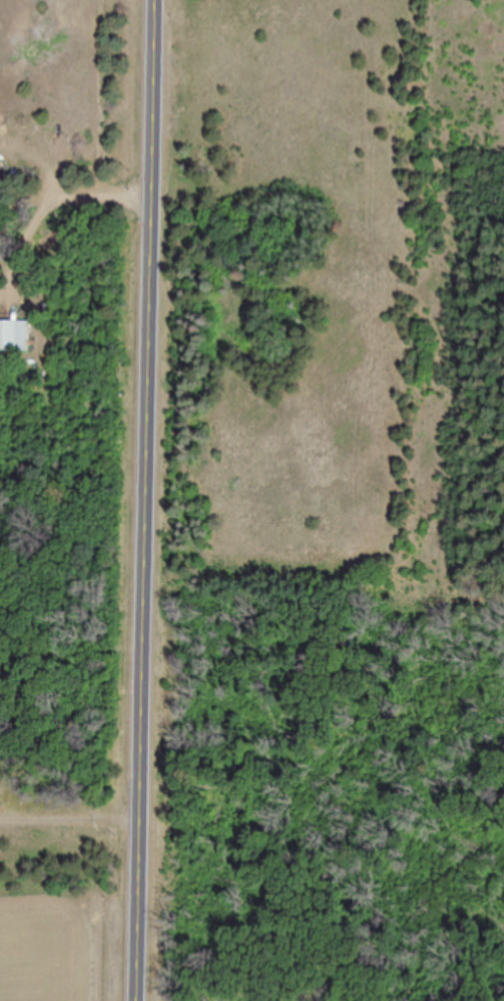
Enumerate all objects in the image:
building: (14, 337)
road: (145, 500)
park: (325, 504)

